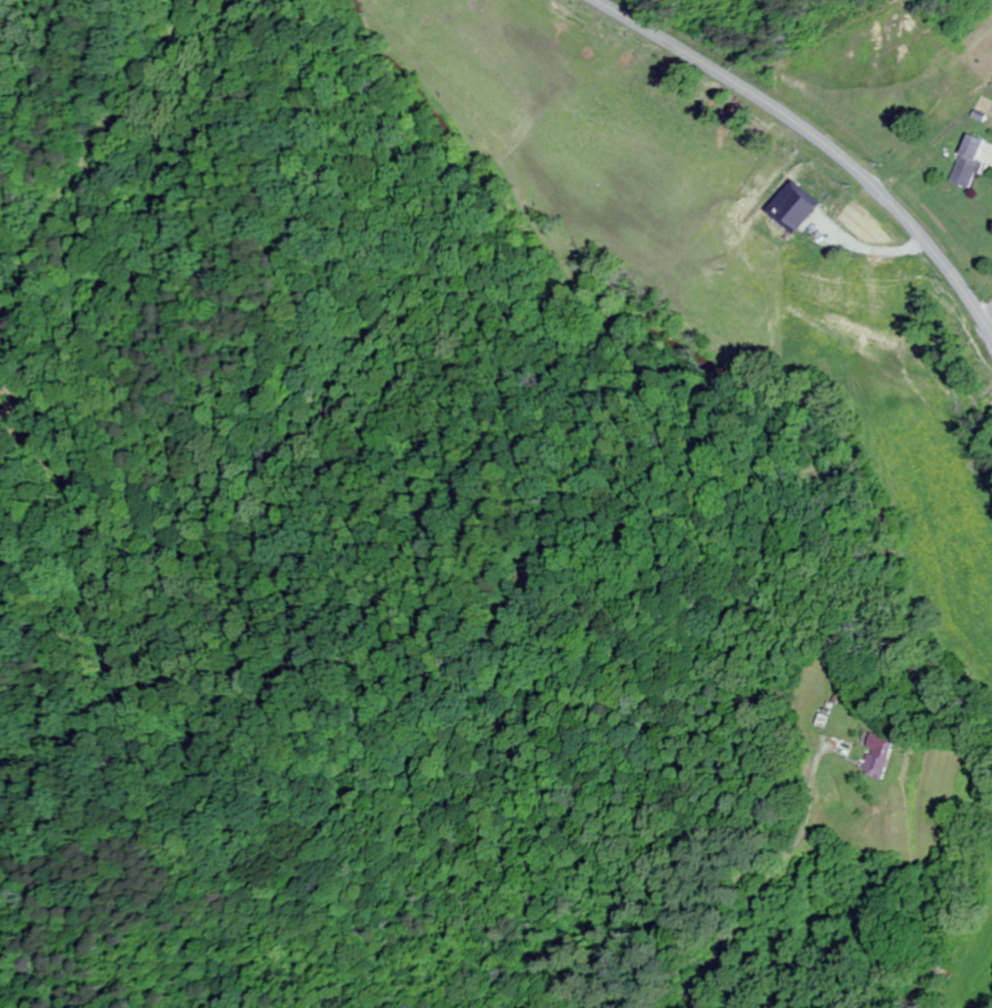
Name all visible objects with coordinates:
road: (814, 146)
building: (973, 161)
building: (801, 206)
building: (832, 225)
road: (989, 336)
building: (893, 756)

